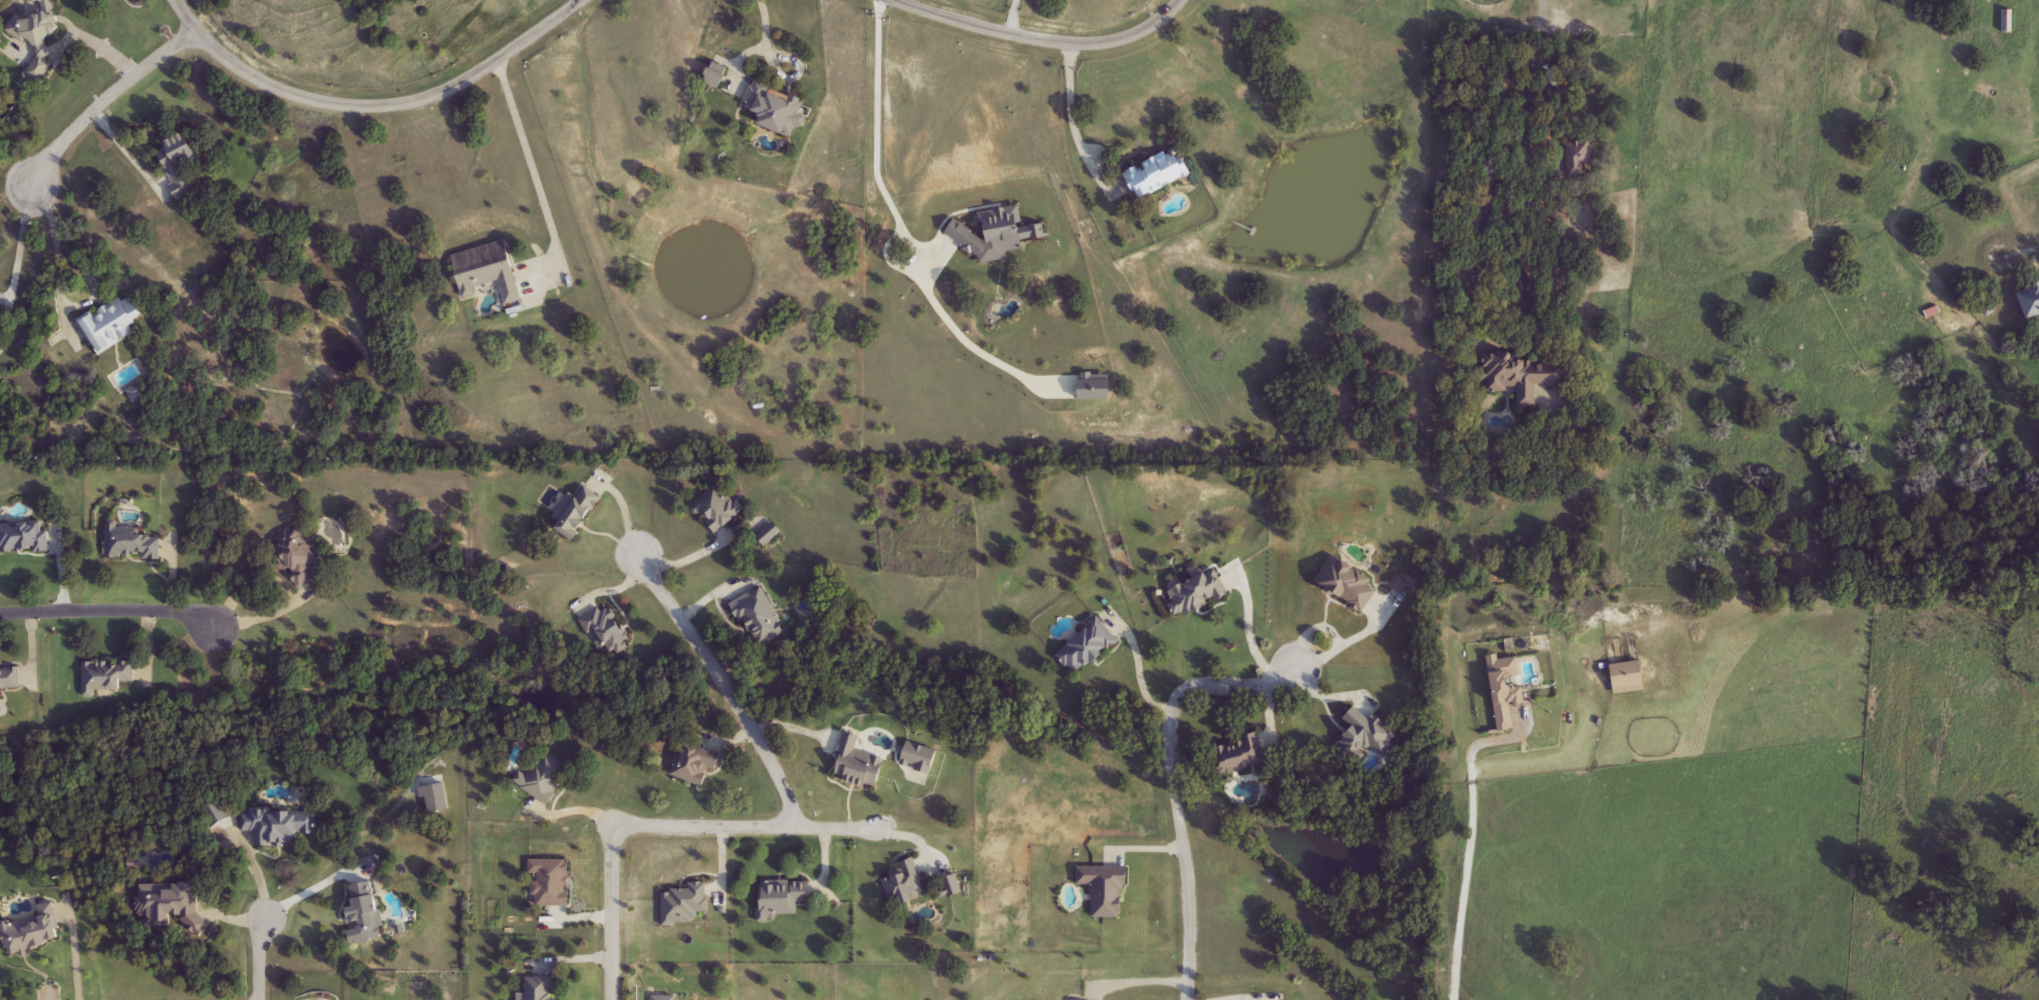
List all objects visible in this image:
building: (2003, 21)
building: (37, 36)
road: (765, 36)
road: (1042, 40)
road: (99, 44)
road: (98, 93)
road: (376, 106)
building: (777, 108)
road: (1521, 110)
road: (1072, 121)
road: (871, 134)
road: (122, 144)
building: (1577, 157)
building: (180, 161)
road: (530, 163)
building: (1159, 174)
road: (18, 247)
building: (489, 271)
road: (56, 282)
building: (2031, 302)
road: (1504, 303)
building: (112, 324)
building: (1524, 377)
building: (718, 509)
building: (580, 513)
building: (770, 534)
building: (24, 538)
building: (130, 544)
road: (693, 554)
building: (295, 556)
building: (1348, 584)
building: (1196, 596)
road: (111, 615)
building: (761, 618)
building: (607, 631)
road: (1250, 636)
road: (1353, 639)
building: (1089, 647)
building: (107, 677)
building: (11, 679)
road: (1141, 680)
road: (725, 682)
building: (1369, 737)
road: (1496, 739)
building: (1238, 758)
building: (858, 765)
building: (692, 766)
building: (542, 779)
road: (1175, 784)
road: (1472, 808)
road: (661, 823)
building: (272, 827)
building: (549, 883)
building: (902, 885)
road: (316, 886)
building: (1105, 891)
building: (781, 899)
building: (684, 905)
building: (366, 914)
road: (266, 957)
road: (1139, 982)
building: (539, 989)

